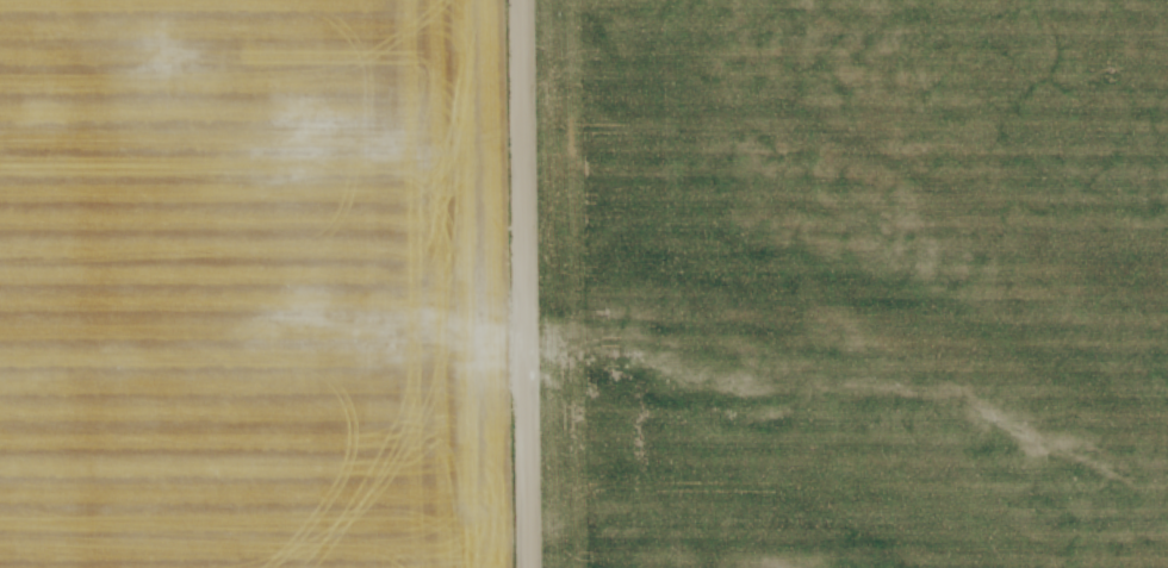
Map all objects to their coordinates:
crop: (852, 282)
road: (520, 283)
crop: (253, 285)

